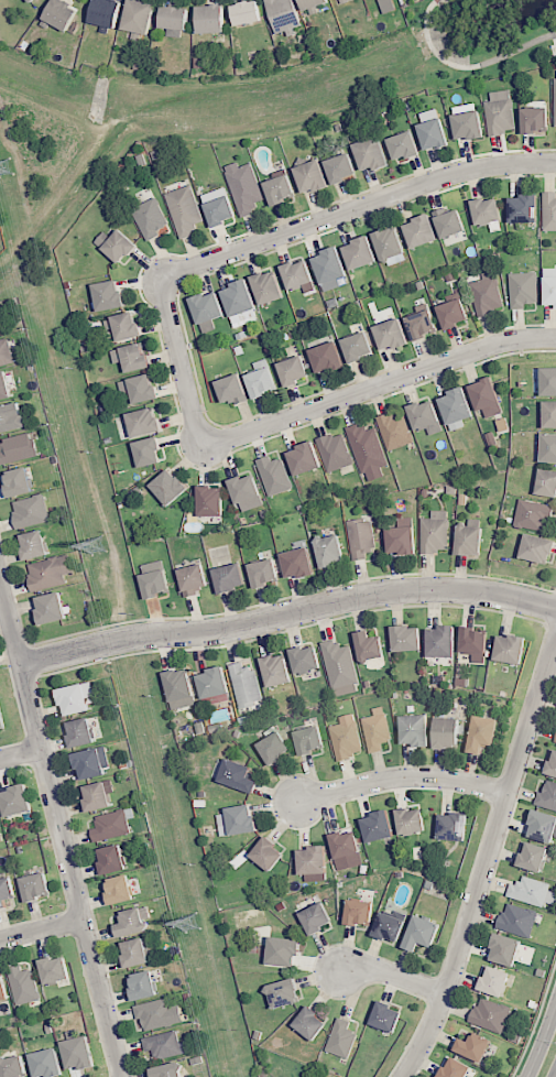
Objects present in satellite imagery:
building: (34, 0)
building: (29, 1)
building: (346, 1)
road: (435, 1)
building: (317, 3)
building: (386, 6)
building: (63, 14)
building: (108, 14)
building: (249, 14)
building: (285, 15)
building: (141, 19)
building: (215, 19)
building: (177, 20)
park: (480, 40)
road: (469, 66)
building: (555, 94)
building: (501, 112)
building: (537, 119)
building: (471, 124)
building: (434, 130)
building: (406, 145)
building: (373, 153)
building: (342, 167)
power tower: (8, 168)
building: (314, 175)
building: (246, 188)
building: (282, 188)
building: (220, 205)
building: (527, 207)
road: (356, 209)
building: (186, 210)
building: (550, 210)
building: (491, 211)
building: (152, 217)
building: (451, 221)
building: (424, 230)
building: (390, 242)
building: (119, 243)
building: (363, 251)
building: (334, 263)
building: (299, 272)
building: (269, 286)
building: (524, 289)
building: (552, 290)
building: (488, 293)
building: (110, 294)
building: (241, 296)
building: (209, 306)
building: (456, 313)
building: (424, 324)
building: (126, 325)
building: (395, 334)
building: (360, 346)
building: (6, 351)
building: (134, 357)
building: (330, 357)
road: (183, 365)
building: (296, 370)
building: (263, 381)
building: (549, 381)
building: (6, 385)
road: (378, 387)
building: (235, 388)
building: (141, 389)
building: (489, 398)
building: (459, 405)
building: (550, 414)
building: (425, 415)
building: (12, 417)
building: (145, 422)
building: (396, 431)
building: (368, 447)
building: (549, 447)
building: (19, 448)
building: (150, 450)
building: (335, 452)
building: (307, 457)
building: (276, 475)
building: (548, 480)
building: (20, 483)
building: (171, 486)
building: (248, 492)
building: (212, 500)
building: (32, 512)
building: (534, 514)
building: (437, 532)
building: (361, 536)
building: (404, 537)
building: (471, 538)
building: (36, 546)
power tower: (98, 546)
building: (539, 547)
building: (331, 548)
building: (301, 561)
building: (266, 572)
building: (51, 573)
building: (231, 577)
building: (195, 578)
building: (156, 579)
building: (52, 608)
road: (287, 617)
building: (407, 638)
building: (444, 641)
building: (476, 642)
building: (371, 646)
building: (512, 648)
building: (307, 660)
building: (341, 664)
building: (279, 670)
building: (216, 682)
building: (179, 685)
building: (246, 685)
building: (77, 698)
building: (2, 717)
building: (417, 730)
building: (378, 731)
building: (449, 731)
building: (83, 733)
building: (483, 733)
building: (312, 739)
building: (348, 740)
building: (276, 747)
road: (21, 755)
building: (94, 762)
building: (552, 766)
building: (240, 775)
road: (403, 779)
building: (548, 795)
building: (98, 797)
building: (18, 799)
building: (244, 820)
building: (412, 822)
building: (0, 824)
building: (544, 825)
building: (111, 826)
building: (455, 826)
building: (380, 827)
road: (62, 830)
building: (348, 847)
building: (269, 852)
building: (535, 857)
building: (113, 860)
building: (315, 860)
road: (488, 866)
building: (36, 886)
building: (7, 891)
building: (122, 891)
building: (530, 891)
building: (362, 913)
building: (318, 917)
building: (517, 922)
building: (133, 923)
power tower: (192, 923)
building: (391, 927)
road: (42, 932)
building: (423, 932)
building: (508, 948)
building: (285, 950)
building: (138, 954)
building: (56, 969)
road: (394, 976)
building: (497, 980)
building: (24, 986)
building: (146, 986)
building: (4, 988)
building: (286, 992)
building: (155, 1013)
building: (491, 1015)
building: (388, 1016)
building: (312, 1023)
building: (342, 1038)
road: (542, 1040)
street lamp: (554, 1042)
building: (167, 1046)
building: (476, 1047)
building: (80, 1053)
building: (48, 1064)
building: (14, 1066)
building: (458, 1069)
building: (170, 1070)
road: (555, 1075)

